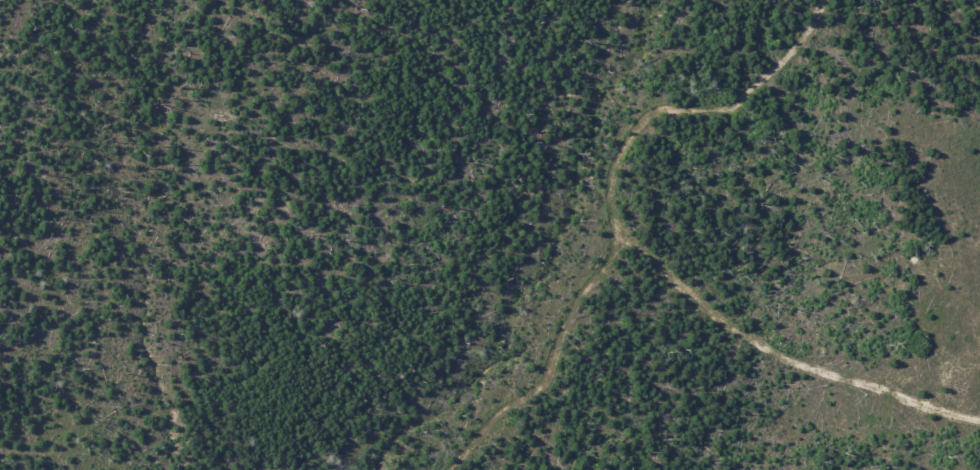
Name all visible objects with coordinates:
park: (490, 235)

